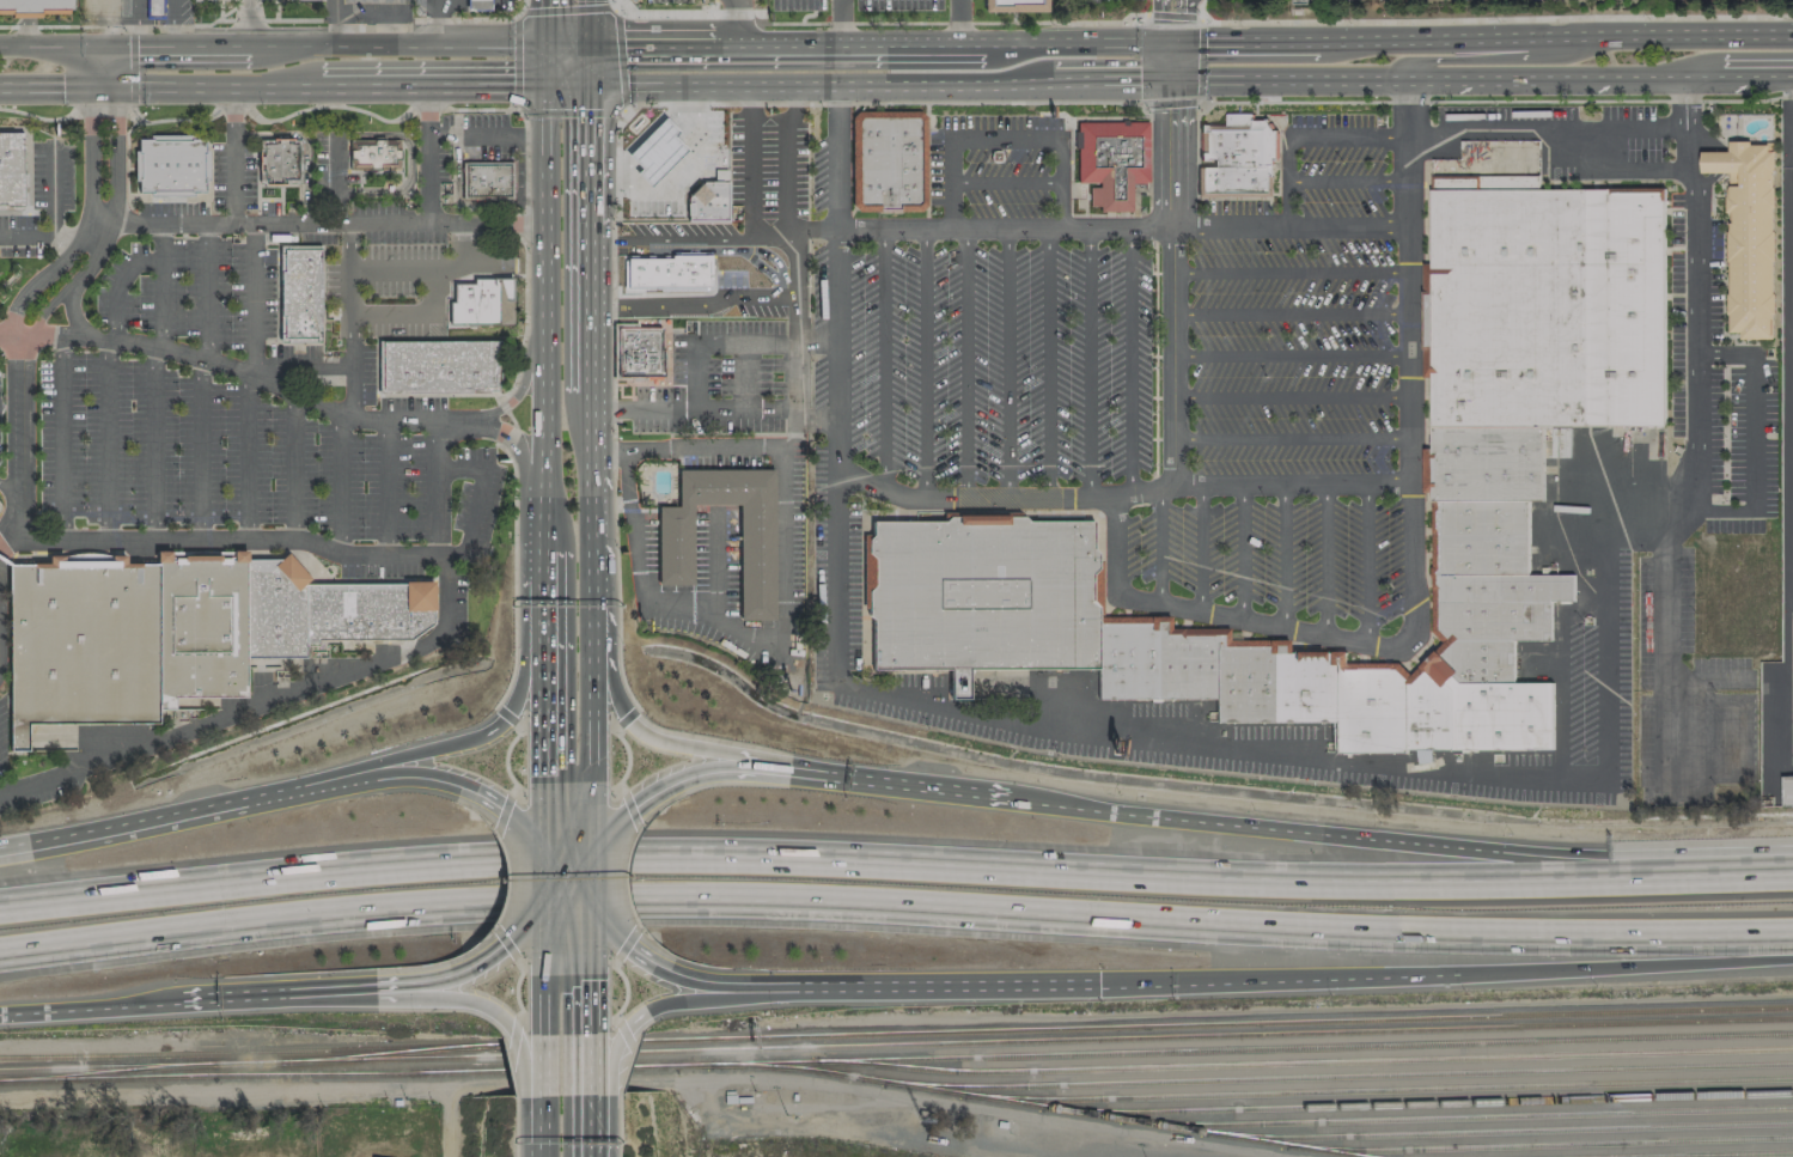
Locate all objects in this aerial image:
building: (36, 4)
parking lot: (797, 4)
parking lot: (898, 4)
building: (477, 5)
building: (1013, 5)
building: (153, 6)
road: (329, 7)
road: (26, 10)
road: (356, 14)
road: (616, 16)
road: (1172, 16)
road: (1488, 18)
road: (475, 19)
road: (1173, 22)
road: (138, 23)
road: (171, 23)
road: (242, 23)
road: (443, 23)
road: (547, 23)
road: (840, 23)
road: (870, 23)
road: (958, 23)
road: (584, 24)
road: (736, 24)
road: (1161, 24)
road: (1187, 24)
road: (160, 26)
road: (395, 31)
road: (28, 32)
road: (1624, 35)
road: (1388, 38)
road: (1245, 41)
road: (1079, 43)
road: (53, 45)
road: (861, 45)
road: (178, 47)
road: (398, 47)
traffic signals: (547, 47)
road: (566, 48)
road: (661, 48)
traffic signals: (586, 49)
road: (1463, 57)
road: (547, 63)
road: (1201, 63)
road: (587, 65)
road: (132, 69)
road: (1757, 74)
road: (1663, 75)
road: (1532, 77)
road: (1316, 79)
road: (1099, 80)
road: (426, 81)
traffic signals: (547, 81)
road: (567, 81)
traffic signals: (588, 81)
road: (712, 83)
road: (933, 83)
road: (152, 86)
road: (1306, 101)
road: (1718, 101)
road: (886, 102)
road: (984, 102)
road: (739, 103)
road: (328, 104)
road: (1171, 104)
road: (231, 109)
road: (425, 109)
road: (480, 109)
road: (102, 112)
road: (36, 116)
road: (1140, 117)
road: (172, 118)
road: (1545, 127)
building: (663, 128)
parking lot: (1581, 130)
road: (115, 135)
road: (1002, 138)
road: (89, 139)
road: (471, 140)
road: (531, 140)
road: (303, 142)
road: (427, 151)
building: (376, 153)
road: (525, 153)
road: (590, 153)
road: (231, 154)
building: (1237, 154)
road: (749, 157)
road: (787, 157)
road: (408, 160)
building: (888, 160)
building: (1111, 160)
road: (1286, 160)
building: (279, 162)
building: (171, 164)
building: (646, 164)
parking lot: (769, 164)
parking lot: (992, 165)
building: (12, 170)
road: (670, 171)
road: (337, 176)
road: (1004, 178)
building: (487, 182)
road: (1390, 185)
road: (51, 190)
road: (1071, 197)
building: (707, 201)
road: (466, 203)
road: (1788, 206)
road: (1425, 209)
road: (522, 217)
road: (321, 220)
road: (1152, 225)
parking lot: (678, 226)
road: (1096, 226)
road: (769, 230)
road: (74, 232)
road: (26, 233)
building: (1748, 236)
road: (670, 238)
road: (727, 249)
road: (788, 260)
road: (425, 263)
road: (1171, 263)
building: (669, 266)
road: (1289, 269)
road: (492, 274)
road: (38, 280)
road: (123, 284)
road: (68, 286)
parking lot: (194, 288)
road: (206, 290)
building: (298, 292)
road: (1397, 293)
road: (1691, 293)
road: (627, 294)
building: (481, 303)
building: (1543, 304)
road: (691, 306)
road: (591, 309)
road: (72, 311)
road: (545, 313)
road: (1288, 313)
parking lot: (1291, 315)
road: (347, 317)
road: (525, 321)
road: (793, 334)
road: (711, 341)
road: (1391, 347)
building: (639, 352)
road: (1289, 355)
road: (1155, 357)
road: (885, 359)
road: (1128, 359)
road: (1045, 360)
road: (1092, 360)
road: (923, 361)
road: (965, 361)
road: (1006, 361)
building: (438, 365)
road: (376, 366)
road: (242, 369)
road: (746, 373)
road: (249, 378)
road: (155, 379)
parking lot: (719, 379)
road: (520, 382)
parking lot: (1719, 383)
parking lot: (965, 386)
road: (368, 394)
road: (438, 394)
road: (1407, 397)
road: (1289, 398)
road: (502, 404)
road: (611, 409)
road: (728, 409)
road: (815, 413)
road: (511, 419)
road: (792, 432)
road: (1752, 433)
road: (59, 437)
road: (102, 437)
road: (508, 437)
road: (512, 438)
road: (1289, 439)
road: (499, 446)
road: (838, 446)
road: (203, 447)
parking lot: (218, 452)
building: (1486, 463)
road: (292, 465)
road: (337, 479)
road: (8, 485)
road: (385, 486)
road: (437, 487)
road: (476, 497)
road: (627, 510)
road: (648, 510)
road: (591, 514)
building: (1483, 536)
road: (10, 543)
road: (1157, 544)
building: (756, 546)
road: (1197, 547)
road: (224, 549)
road: (6, 550)
road: (1239, 550)
road: (358, 552)
road: (1281, 554)
parking lot: (1273, 555)
road: (1328, 558)
road: (708, 561)
road: (1362, 561)
road: (544, 564)
road: (513, 579)
road: (781, 595)
building: (980, 595)
road: (543, 597)
building: (274, 609)
building: (367, 610)
building: (1494, 619)
road: (1288, 625)
building: (200, 628)
road: (1671, 641)
building: (80, 645)
building: (1152, 662)
road: (1709, 680)
parking lot: (1596, 681)
building: (1242, 682)
building: (1299, 684)
road: (543, 699)
parking lot: (1688, 699)
road: (591, 708)
building: (1366, 708)
building: (1495, 711)
building: (1427, 713)
road: (505, 714)
road: (624, 717)
road: (476, 737)
road: (664, 742)
parking lot: (2, 743)
parking lot: (1233, 745)
road: (506, 755)
road: (1271, 755)
road: (627, 756)
road: (737, 771)
road: (407, 777)
road: (44, 779)
traffic signals: (543, 781)
road: (908, 784)
parking lot: (36, 791)
building: (1787, 791)
road: (628, 809)
road: (169, 811)
road: (505, 811)
traffic signals: (624, 818)
road: (518, 827)
road: (543, 829)
road: (500, 842)
road: (630, 842)
road: (1405, 844)
road: (895, 861)
road: (506, 863)
road: (598, 865)
road: (624, 869)
road: (591, 876)
road: (594, 884)
road: (537, 889)
road: (627, 897)
road: (505, 900)
road: (895, 907)
road: (634, 919)
road: (568, 925)
road: (544, 926)
traffic signals: (510, 937)
road: (505, 943)
road: (624, 943)
road: (1446, 973)
traffic signals: (593, 974)
road: (712, 981)
road: (410, 982)
traffic signals: (1099, 984)
road: (516, 985)
road: (927, 987)
road: (623, 991)
road: (276, 995)
road: (449, 997)
road: (685, 999)
road: (593, 1004)
road: (544, 1005)
road: (91, 1009)
road: (516, 1022)
road: (621, 1024)
railway: (1215, 1024)
railway: (1240, 1033)
road: (629, 1040)
railway: (628, 1041)
road: (511, 1042)
railway: (559, 1042)
railway: (1303, 1046)
railway: (249, 1051)
railway: (390, 1053)
road: (630, 1054)
railway: (484, 1055)
road: (608, 1061)
railway: (245, 1062)
road: (530, 1062)
railway: (1250, 1062)
road: (507, 1064)
road: (594, 1064)
road: (543, 1065)
road: (627, 1065)
railway: (105, 1066)
railway: (626, 1066)
railway: (105, 1072)
railway: (309, 1073)
railway: (1338, 1076)
road: (622, 1079)
road: (513, 1086)
road: (348, 1089)
railway: (1378, 1090)
road: (617, 1091)
railway: (1005, 1098)
railway: (1417, 1103)
road: (1001, 1110)
railway: (1464, 1116)
road: (449, 1120)
road: (618, 1123)
road: (543, 1125)
road: (594, 1125)
railway: (1501, 1131)
railway: (1545, 1144)
building: (219, 1153)
railway: (1697, 1153)

